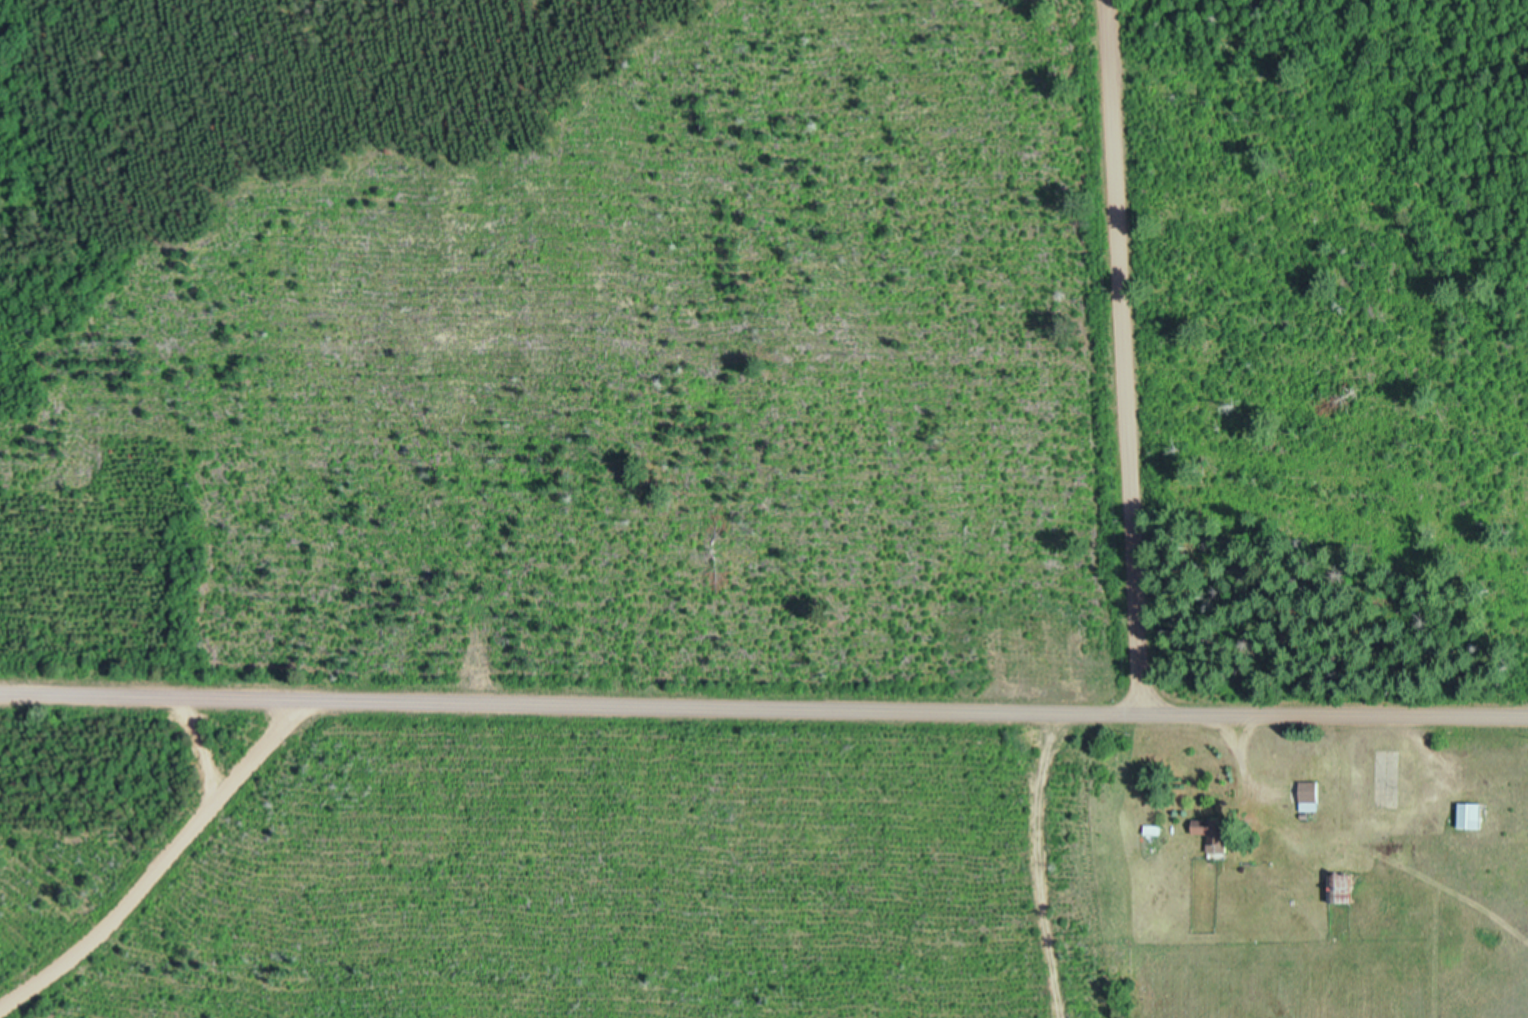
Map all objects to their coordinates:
road: (1123, 359)
road: (763, 714)
building: (1312, 799)
building: (1474, 820)
building: (1213, 836)
road: (160, 869)
building: (1342, 891)

